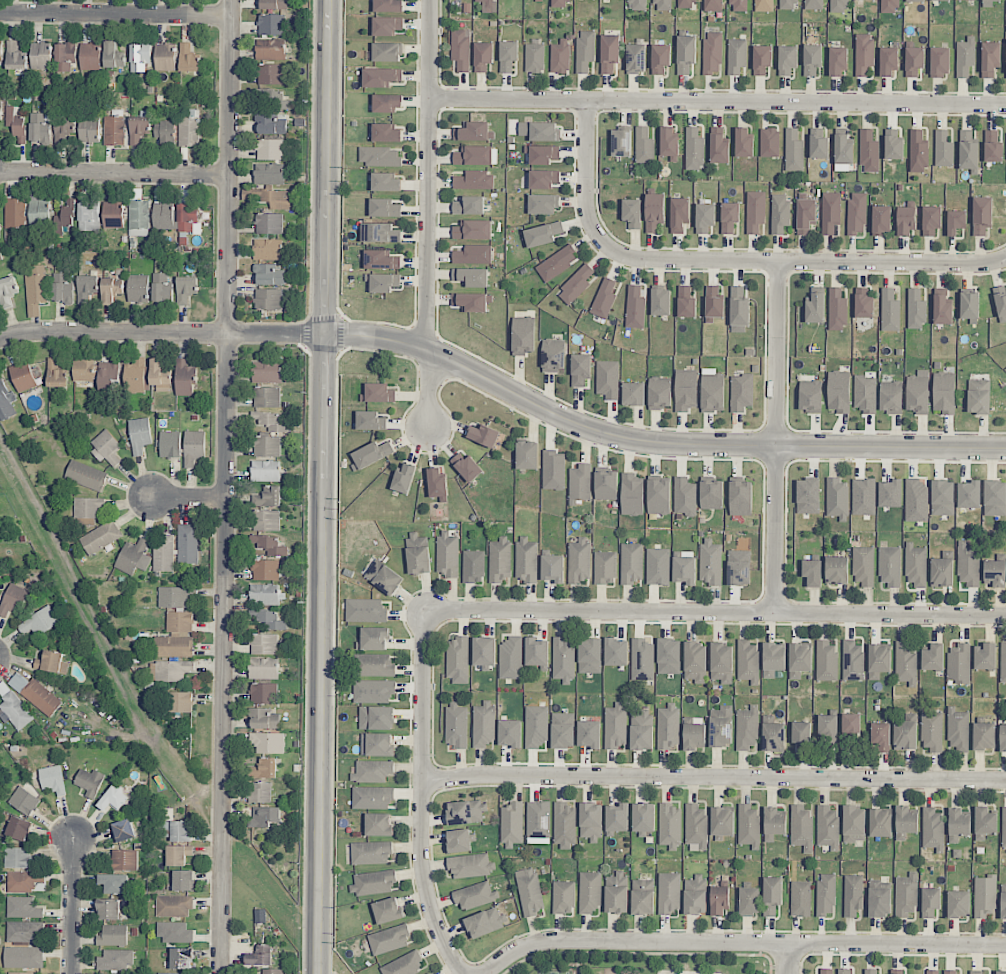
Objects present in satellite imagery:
building: (868, 0)
building: (941, 0)
building: (915, 1)
building: (559, 3)
building: (988, 3)
building: (273, 4)
building: (687, 4)
building: (788, 4)
building: (813, 4)
building: (388, 5)
building: (487, 5)
building: (637, 5)
building: (662, 5)
building: (712, 5)
building: (738, 5)
building: (763, 5)
building: (839, 6)
building: (889, 6)
road: (116, 15)
building: (271, 24)
building: (386, 26)
building: (271, 48)
building: (461, 49)
building: (1, 51)
building: (585, 51)
building: (386, 52)
building: (712, 52)
building: (609, 53)
building: (686, 53)
building: (863, 53)
building: (41, 55)
building: (113, 55)
building: (508, 55)
building: (736, 55)
building: (15, 56)
building: (65, 56)
building: (90, 56)
building: (140, 56)
building: (483, 56)
building: (534, 56)
building: (965, 56)
building: (165, 57)
building: (560, 57)
building: (188, 58)
building: (636, 58)
building: (660, 58)
building: (990, 58)
building: (762, 59)
building: (787, 59)
building: (812, 59)
building: (888, 60)
building: (837, 61)
building: (913, 61)
building: (940, 61)
building: (270, 74)
building: (381, 77)
building: (273, 100)
road: (717, 102)
building: (387, 103)
building: (0, 112)
building: (272, 123)
building: (16, 124)
building: (39, 128)
building: (64, 128)
building: (89, 129)
building: (114, 130)
building: (164, 130)
building: (189, 130)
building: (539, 131)
building: (474, 132)
building: (386, 133)
building: (621, 142)
building: (668, 142)
building: (769, 142)
building: (743, 143)
building: (644, 145)
building: (819, 145)
building: (893, 145)
building: (993, 146)
building: (718, 147)
building: (270, 149)
building: (694, 149)
building: (943, 149)
building: (793, 150)
building: (868, 151)
building: (918, 151)
building: (968, 151)
building: (843, 153)
building: (542, 154)
building: (474, 155)
building: (379, 156)
road: (231, 166)
road: (115, 173)
building: (269, 173)
road: (587, 174)
road: (428, 175)
building: (543, 179)
building: (474, 180)
building: (387, 182)
building: (271, 197)
building: (543, 204)
building: (469, 205)
building: (384, 208)
building: (654, 211)
building: (755, 211)
building: (39, 212)
building: (830, 212)
building: (15, 213)
building: (138, 213)
building: (632, 213)
building: (779, 213)
building: (857, 213)
building: (113, 214)
building: (679, 214)
building: (88, 215)
building: (163, 215)
building: (806, 215)
building: (982, 215)
building: (187, 217)
building: (704, 217)
building: (729, 217)
building: (64, 218)
building: (881, 220)
building: (905, 220)
building: (931, 220)
building: (955, 222)
building: (269, 223)
building: (473, 230)
building: (380, 233)
building: (542, 234)
building: (268, 249)
building: (473, 254)
building: (381, 259)
building: (557, 263)
road: (802, 263)
building: (269, 275)
building: (471, 277)
building: (383, 282)
building: (36, 285)
building: (576, 285)
building: (63, 287)
building: (86, 287)
building: (138, 288)
building: (162, 288)
building: (111, 289)
building: (186, 289)
building: (7, 291)
building: (269, 299)
building: (604, 299)
building: (1000, 301)
building: (470, 302)
building: (661, 302)
building: (686, 302)
building: (714, 302)
building: (864, 303)
building: (969, 305)
building: (635, 307)
building: (815, 308)
building: (916, 309)
building: (739, 310)
building: (837, 310)
building: (942, 310)
building: (890, 311)
road: (113, 332)
road: (276, 333)
building: (523, 335)
building: (553, 355)
building: (580, 369)
building: (83, 370)
building: (267, 372)
building: (56, 374)
building: (108, 374)
building: (23, 376)
building: (135, 376)
building: (160, 376)
building: (184, 378)
building: (607, 379)
road: (429, 387)
building: (686, 390)
building: (712, 390)
building: (839, 391)
building: (660, 392)
building: (741, 392)
building: (918, 392)
building: (944, 392)
building: (378, 393)
building: (865, 393)
building: (633, 394)
building: (810, 396)
building: (266, 397)
building: (891, 397)
building: (978, 397)
building: (6, 401)
building: (372, 420)
building: (269, 421)
building: (140, 435)
building: (483, 435)
road: (777, 438)
road: (653, 443)
building: (170, 444)
building: (267, 446)
building: (106, 447)
building: (193, 447)
building: (371, 454)
building: (527, 455)
building: (467, 467)
building: (553, 470)
building: (266, 471)
building: (86, 475)
building: (404, 477)
building: (580, 482)
building: (437, 483)
building: (606, 484)
road: (321, 486)
building: (711, 493)
building: (890, 493)
building: (632, 494)
building: (969, 494)
building: (269, 496)
building: (684, 496)
building: (808, 496)
building: (863, 496)
building: (659, 497)
building: (942, 497)
road: (188, 498)
building: (740, 498)
building: (995, 498)
building: (837, 499)
building: (916, 500)
building: (88, 507)
building: (266, 520)
building: (101, 537)
building: (188, 543)
building: (268, 546)
building: (418, 554)
building: (447, 554)
building: (164, 555)
building: (133, 557)
building: (499, 559)
building: (526, 559)
building: (579, 560)
building: (710, 562)
building: (631, 563)
building: (968, 564)
building: (863, 565)
building: (915, 565)
building: (473, 566)
building: (658, 566)
building: (889, 566)
building: (739, 567)
building: (553, 568)
building: (605, 568)
building: (266, 569)
building: (837, 569)
building: (684, 570)
building: (942, 570)
building: (812, 572)
building: (994, 573)
building: (383, 577)
building: (174, 596)
building: (13, 600)
building: (365, 610)
road: (714, 614)
building: (269, 619)
building: (39, 622)
road: (100, 635)
building: (176, 636)
building: (373, 638)
building: (264, 644)
building: (485, 652)
building: (537, 652)
building: (616, 652)
road: (224, 653)
building: (589, 655)
building: (669, 656)
building: (985, 656)
building: (511, 657)
building: (933, 657)
building: (642, 659)
building: (773, 659)
building: (458, 660)
building: (563, 660)
building: (799, 660)
building: (853, 660)
building: (878, 660)
building: (748, 661)
building: (826, 661)
building: (51, 662)
building: (695, 662)
building: (721, 662)
building: (905, 663)
building: (959, 663)
building: (1003, 663)
building: (374, 665)
building: (263, 668)
building: (170, 670)
building: (373, 691)
building: (264, 693)
building: (36, 694)
building: (181, 701)
building: (14, 711)
building: (376, 718)
building: (264, 719)
building: (483, 724)
building: (851, 724)
building: (456, 725)
building: (615, 725)
building: (536, 726)
building: (721, 726)
building: (827, 726)
building: (668, 727)
building: (747, 728)
building: (563, 730)
building: (642, 730)
building: (957, 730)
building: (931, 731)
building: (510, 733)
building: (589, 734)
building: (772, 735)
building: (905, 735)
building: (694, 736)
building: (802, 736)
building: (984, 736)
building: (880, 737)
building: (1002, 737)
building: (267, 742)
building: (376, 744)
building: (263, 768)
building: (372, 771)
road: (713, 778)
building: (52, 779)
building: (89, 782)
building: (259, 792)
building: (372, 797)
road: (420, 797)
building: (113, 799)
building: (24, 800)
building: (466, 812)
building: (264, 816)
building: (616, 818)
building: (643, 818)
building: (722, 821)
building: (538, 822)
building: (591, 822)
building: (905, 822)
building: (984, 822)
building: (774, 823)
building: (880, 823)
building: (378, 824)
building: (512, 824)
building: (854, 824)
building: (958, 824)
building: (564, 825)
building: (748, 825)
building: (670, 826)
building: (801, 827)
building: (1003, 827)
building: (18, 828)
building: (696, 828)
building: (827, 828)
building: (932, 829)
building: (123, 830)
building: (177, 830)
building: (459, 840)
building: (371, 853)
building: (178, 854)
building: (17, 857)
building: (125, 860)
building: (471, 865)
building: (183, 880)
building: (23, 881)
building: (113, 882)
building: (372, 882)
building: (529, 891)
building: (590, 892)
building: (616, 893)
building: (669, 893)
building: (853, 894)
building: (475, 895)
building: (695, 895)
building: (772, 895)
building: (825, 895)
building: (906, 895)
building: (985, 896)
building: (563, 897)
building: (643, 897)
building: (800, 898)
building: (880, 898)
building: (719, 900)
building: (749, 901)
building: (1003, 901)
building: (930, 902)
building: (958, 904)
building: (173, 906)
building: (23, 907)
road: (72, 907)
building: (108, 909)
building: (387, 910)
building: (484, 922)
building: (24, 931)
building: (174, 932)
building: (113, 935)
building: (389, 939)
road: (743, 943)
building: (260, 955)
building: (23, 957)
building: (181, 958)
building: (115, 959)
road: (785, 959)
building: (404, 965)
building: (268, 971)
building: (826, 971)
building: (844, 971)
building: (870, 971)
building: (932, 972)
building: (949, 972)
building: (1000, 972)
building: (20, 973)
building: (169, 973)
building: (979, 973)

